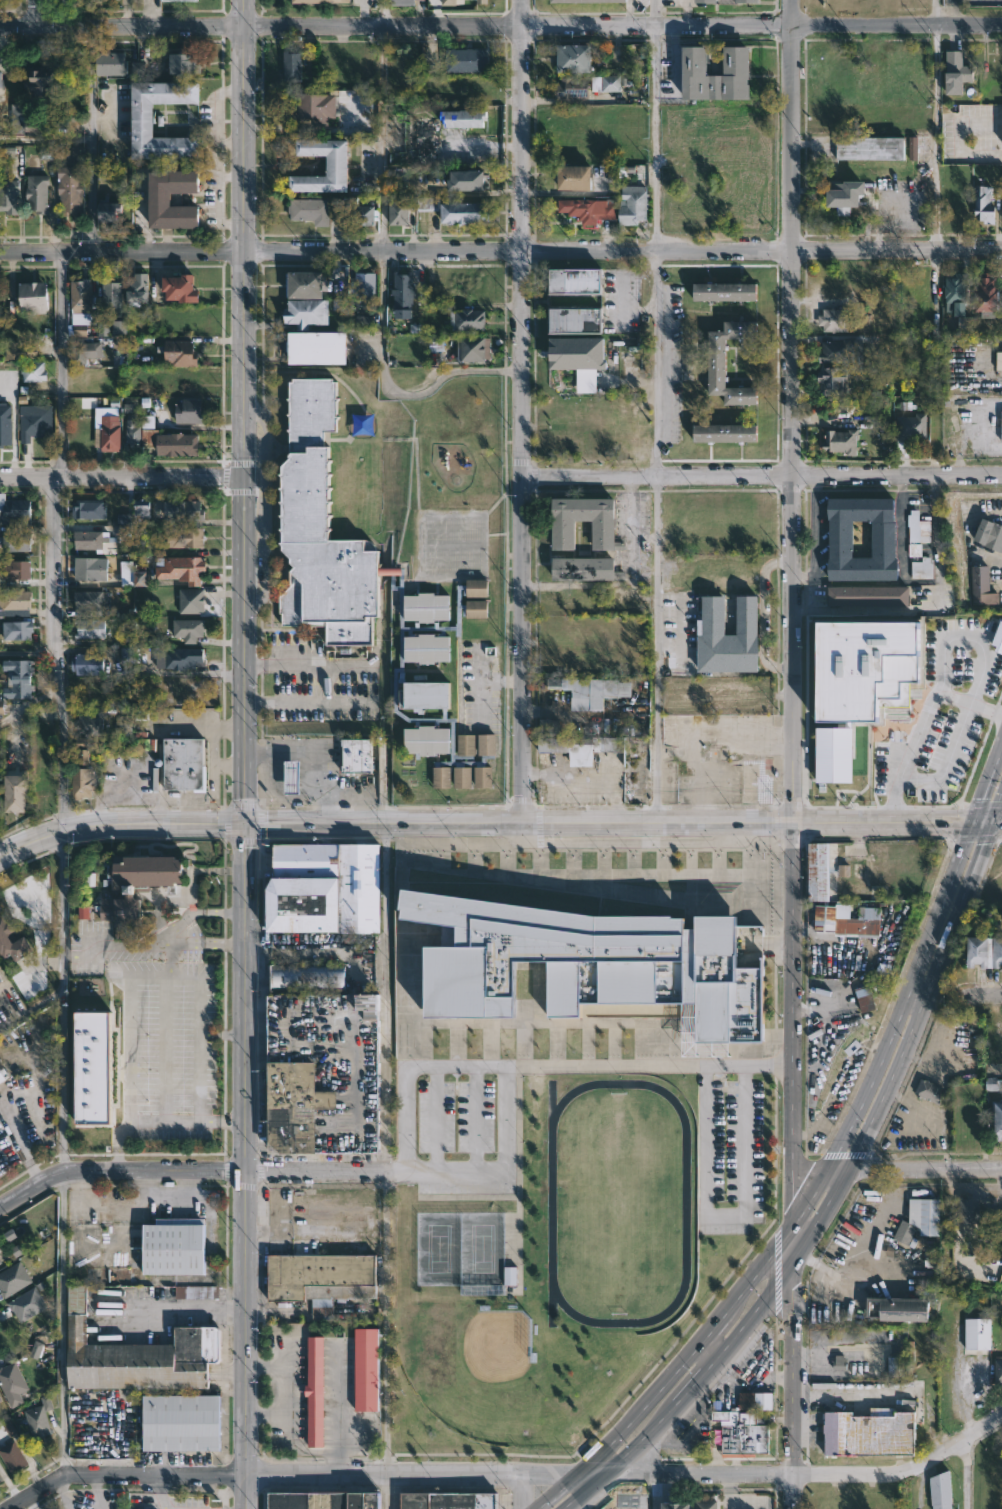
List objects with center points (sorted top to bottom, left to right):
building: (182, 0)
building: (321, 0)
building: (575, 0)
building: (705, 0)
building: (746, 0)
building: (481, 1)
building: (401, 2)
building: (449, 2)
park: (12, 8)
road: (12, 9)
road: (383, 12)
road: (34, 13)
road: (934, 13)
road: (951, 13)
road: (546, 25)
road: (62, 26)
road: (17, 27)
building: (573, 57)
building: (465, 58)
building: (735, 60)
building: (109, 63)
building: (185, 63)
building: (291, 66)
building: (956, 71)
building: (1, 78)
building: (41, 83)
building: (607, 83)
building: (572, 86)
building: (315, 107)
building: (138, 115)
building: (17, 118)
building: (461, 118)
road: (655, 127)
building: (32, 128)
building: (423, 139)
road: (936, 139)
road: (45, 140)
road: (91, 140)
road: (383, 141)
building: (870, 148)
building: (913, 148)
building: (9, 152)
building: (46, 152)
road: (966, 155)
building: (335, 165)
building: (572, 177)
building: (465, 179)
building: (69, 188)
building: (37, 193)
building: (843, 195)
building: (9, 196)
building: (160, 199)
building: (428, 204)
building: (632, 204)
building: (984, 204)
building: (588, 208)
building: (309, 209)
building: (110, 211)
building: (398, 212)
building: (463, 212)
building: (363, 214)
road: (501, 257)
building: (573, 280)
building: (304, 284)
building: (953, 287)
building: (136, 288)
building: (179, 288)
building: (364, 290)
building: (723, 291)
building: (403, 292)
building: (986, 292)
building: (33, 296)
building: (109, 297)
building: (1, 302)
building: (83, 310)
building: (306, 312)
building: (574, 319)
building: (833, 319)
building: (465, 320)
building: (364, 321)
building: (964, 325)
building: (117, 327)
building: (314, 347)
building: (473, 348)
building: (19, 350)
building: (86, 351)
building: (839, 351)
building: (180, 353)
building: (579, 359)
road: (962, 360)
building: (998, 360)
building: (688, 363)
building: (715, 363)
road: (657, 366)
building: (32, 371)
building: (834, 378)
road: (395, 389)
building: (188, 411)
road: (523, 412)
road: (795, 412)
building: (6, 424)
building: (1001, 424)
building: (31, 425)
road: (962, 426)
building: (910, 427)
building: (131, 430)
building: (109, 432)
building: (723, 433)
building: (841, 441)
building: (176, 444)
road: (962, 459)
road: (762, 474)
road: (121, 477)
building: (89, 509)
building: (183, 510)
building: (14, 511)
building: (134, 513)
road: (902, 527)
building: (561, 531)
building: (989, 535)
road: (815, 536)
building: (186, 537)
building: (90, 540)
building: (884, 540)
building: (16, 542)
building: (919, 546)
road: (244, 561)
building: (18, 569)
building: (89, 569)
building: (182, 569)
building: (584, 569)
building: (132, 575)
road: (630, 584)
building: (980, 585)
building: (366, 590)
building: (868, 596)
building: (192, 600)
building: (15, 603)
building: (90, 604)
road: (879, 611)
road: (762, 615)
building: (89, 628)
building: (188, 628)
building: (17, 629)
building: (728, 636)
building: (998, 638)
road: (660, 650)
road: (30, 652)
building: (179, 657)
building: (86, 663)
road: (306, 665)
building: (866, 670)
road: (942, 672)
building: (17, 676)
building: (586, 690)
road: (954, 697)
road: (304, 702)
building: (1, 707)
road: (61, 712)
building: (89, 722)
building: (124, 726)
building: (575, 742)
building: (359, 755)
road: (309, 757)
road: (947, 758)
building: (185, 763)
building: (82, 767)
building: (830, 771)
building: (292, 776)
road: (988, 785)
road: (352, 791)
building: (14, 792)
road: (998, 814)
road: (913, 823)
traffic signals: (975, 823)
road: (985, 823)
traffic signals: (995, 823)
road: (998, 823)
road: (824, 824)
road: (456, 825)
traffic signals: (246, 826)
road: (57, 835)
building: (818, 870)
building: (844, 870)
building: (137, 887)
building: (325, 888)
road: (196, 911)
building: (825, 917)
building: (862, 922)
building: (12, 940)
road: (153, 940)
building: (978, 950)
building: (997, 951)
road: (147, 973)
building: (308, 978)
building: (0, 980)
building: (465, 982)
road: (916, 996)
road: (384, 997)
building: (865, 997)
road: (993, 1000)
road: (32, 1008)
road: (795, 1022)
road: (198, 1023)
road: (894, 1025)
parking lot: (150, 1026)
road: (224, 1034)
road: (904, 1045)
building: (90, 1066)
road: (550, 1066)
building: (325, 1073)
building: (1, 1076)
building: (994, 1084)
building: (927, 1091)
road: (434, 1118)
road: (474, 1118)
road: (506, 1118)
building: (998, 1120)
road: (161, 1121)
road: (249, 1146)
road: (836, 1168)
road: (923, 1168)
road: (377, 1170)
road: (119, 1171)
park: (619, 1196)
building: (968, 1210)
road: (724, 1214)
building: (919, 1218)
road: (795, 1239)
building: (172, 1246)
building: (0, 1261)
road: (760, 1269)
building: (319, 1274)
building: (510, 1275)
building: (13, 1278)
building: (196, 1291)
building: (26, 1303)
road: (211, 1307)
road: (154, 1308)
building: (897, 1308)
road: (246, 1321)
road: (386, 1321)
road: (61, 1322)
road: (713, 1329)
building: (977, 1333)
road: (710, 1346)
building: (131, 1347)
building: (36, 1349)
park: (470, 1366)
road: (789, 1366)
building: (894, 1366)
building: (366, 1368)
building: (998, 1371)
building: (11, 1380)
road: (682, 1390)
building: (314, 1393)
building: (0, 1397)
building: (756, 1400)
building: (0, 1401)
building: (39, 1418)
building: (179, 1424)
building: (10, 1428)
road: (624, 1430)
building: (741, 1430)
building: (866, 1431)
building: (12, 1455)
road: (593, 1470)
road: (289, 1473)
road: (965, 1473)
road: (810, 1475)
building: (1, 1478)
building: (938, 1489)
road: (521, 1490)
road: (652, 1490)
road: (244, 1491)
road: (385, 1491)
road: (96, 1492)
road: (785, 1492)
road: (62, 1493)
building: (317, 1500)
building: (447, 1500)
road: (731, 1501)
building: (672, 1504)
building: (704, 1504)

